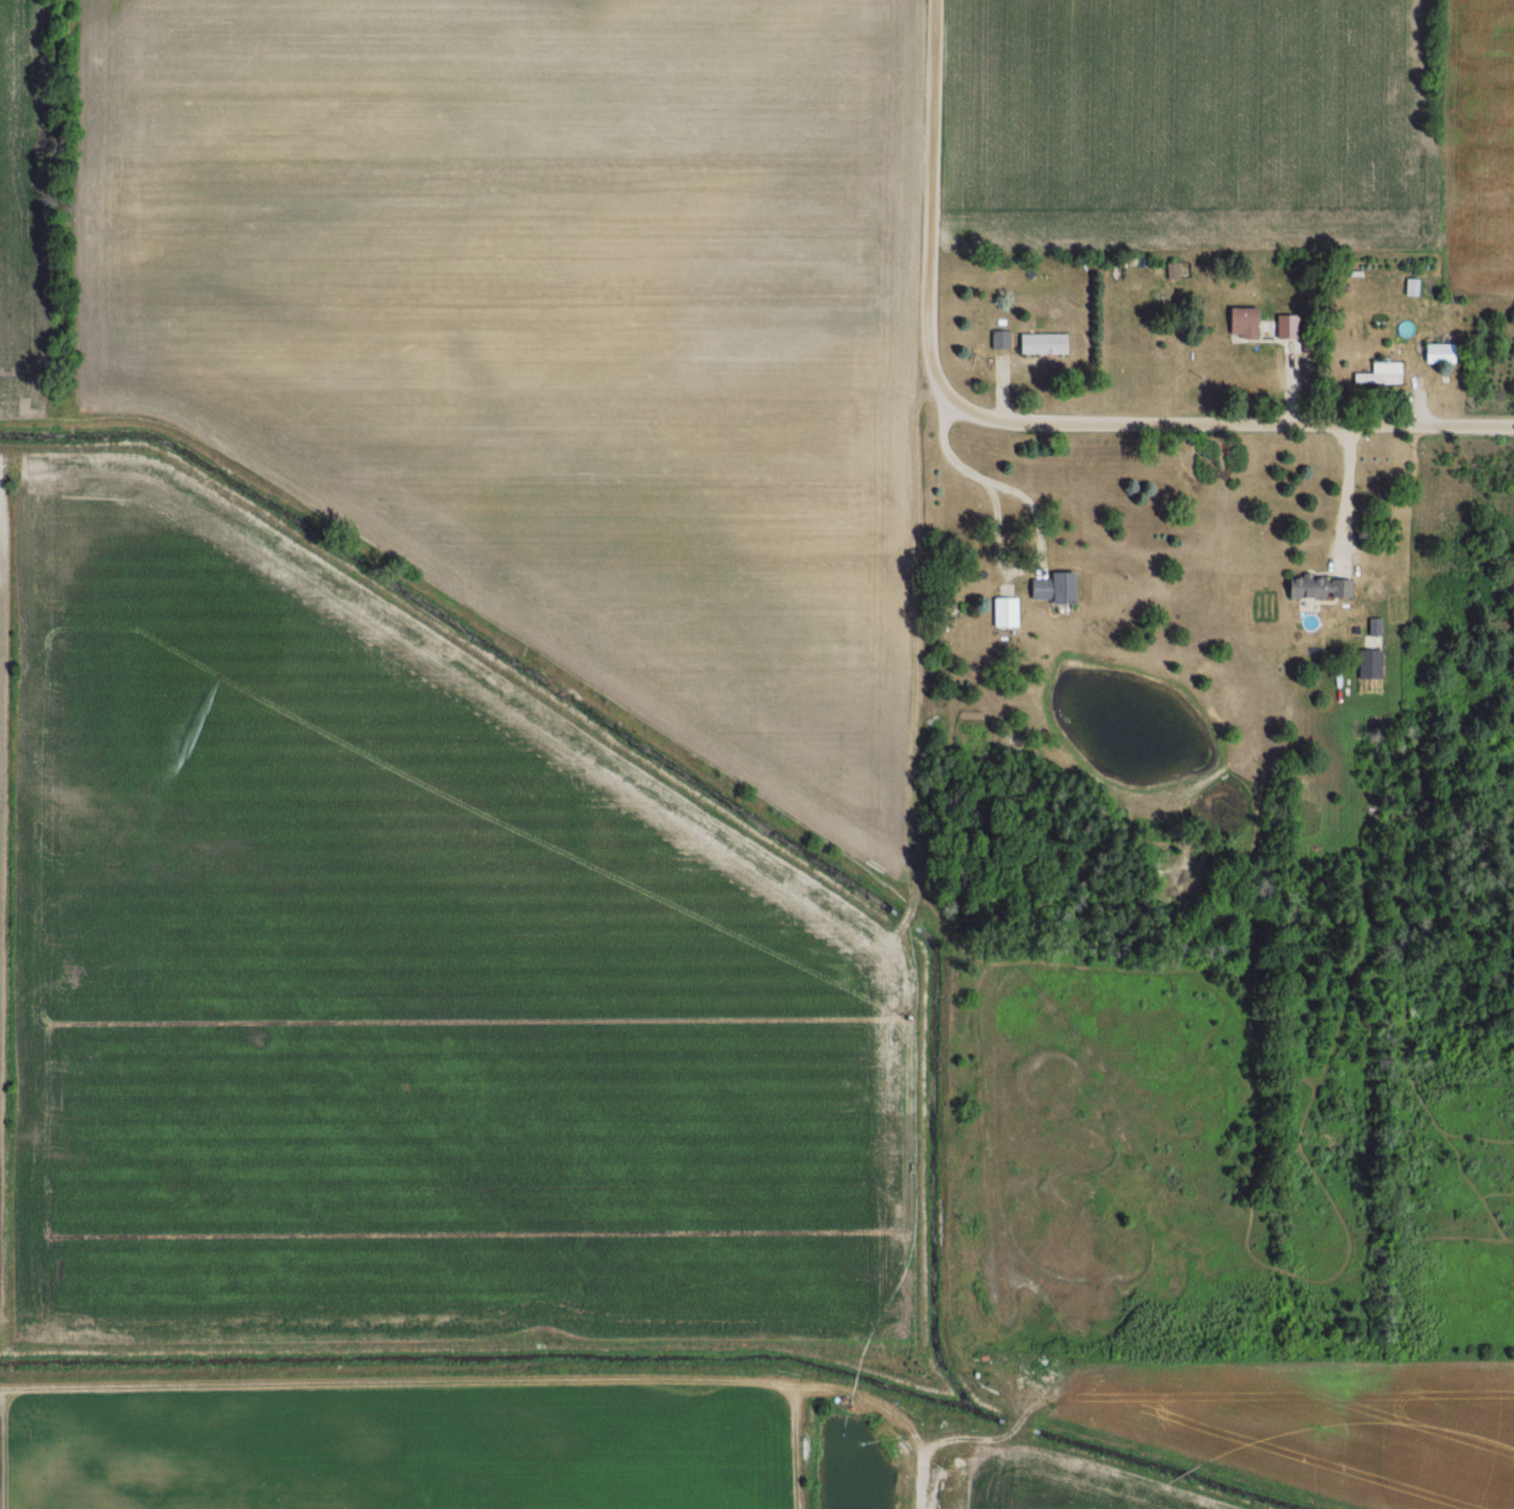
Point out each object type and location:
road: (931, 204)
building: (1171, 270)
building: (1411, 287)
building: (1240, 322)
building: (1285, 326)
building: (998, 340)
building: (1040, 344)
building: (1436, 353)
building: (1379, 374)
road: (1230, 424)
road: (993, 483)
road: (1347, 492)
building: (1316, 587)
building: (1049, 588)
building: (1003, 612)
building: (1368, 664)

